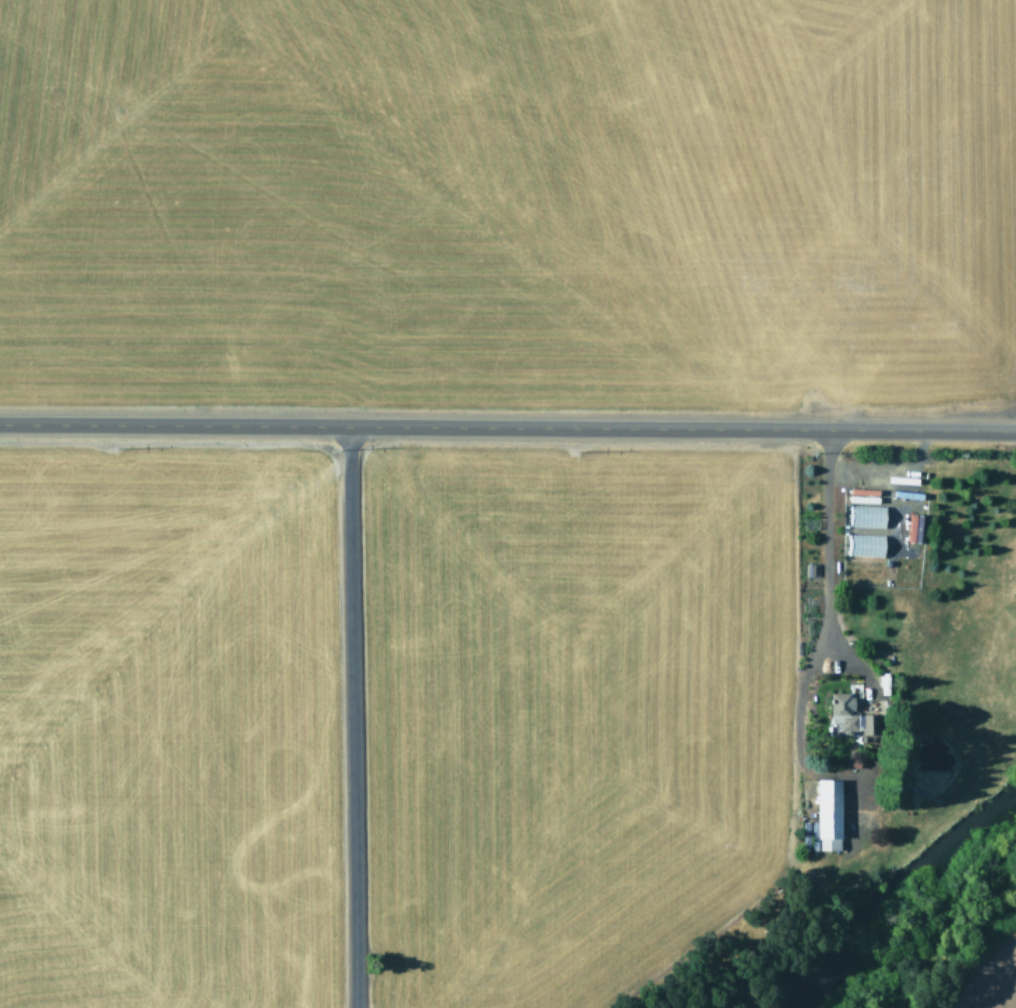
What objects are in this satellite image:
crop: (509, 197)
road: (508, 427)
building: (865, 516)
building: (912, 528)
building: (864, 545)
road: (353, 717)
building: (846, 718)
crop: (387, 721)
building: (825, 815)
crop: (980, 975)

